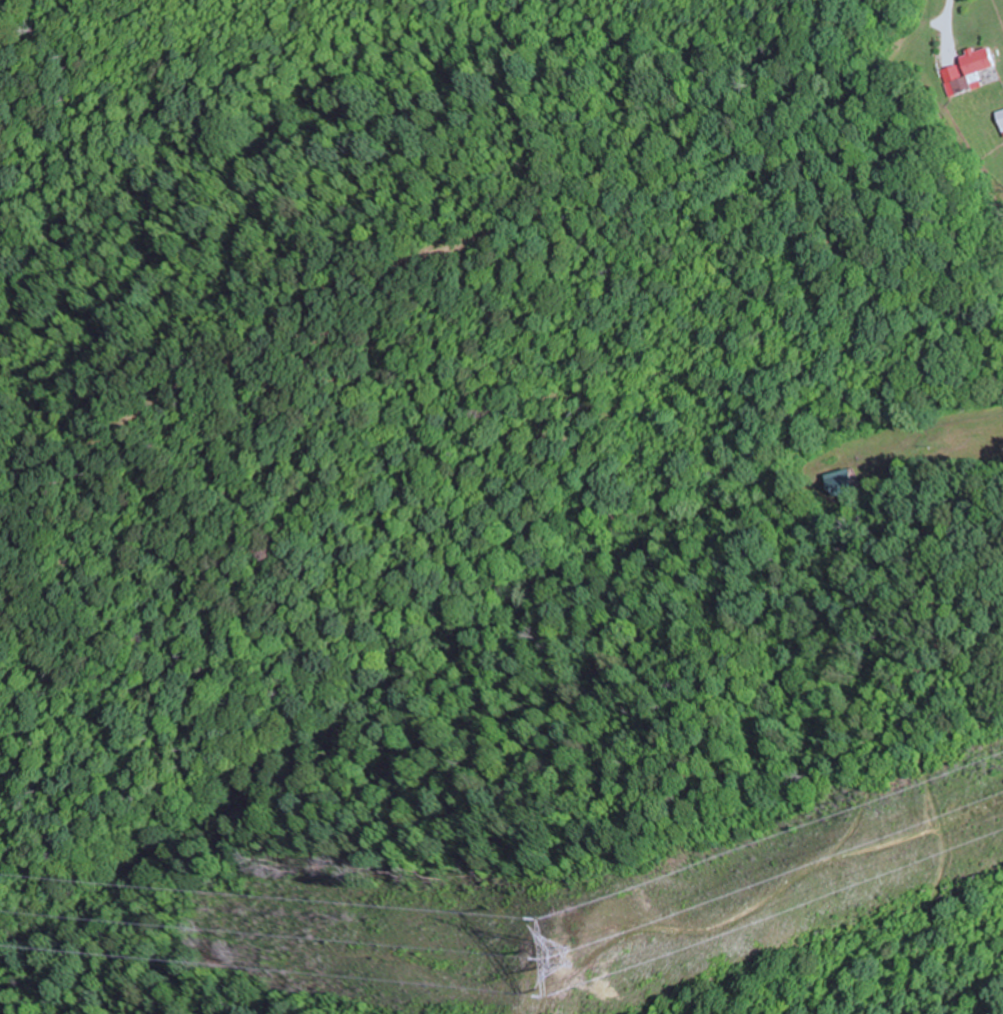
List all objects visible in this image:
building: (977, 69)
building: (1001, 117)
power tower: (555, 960)

